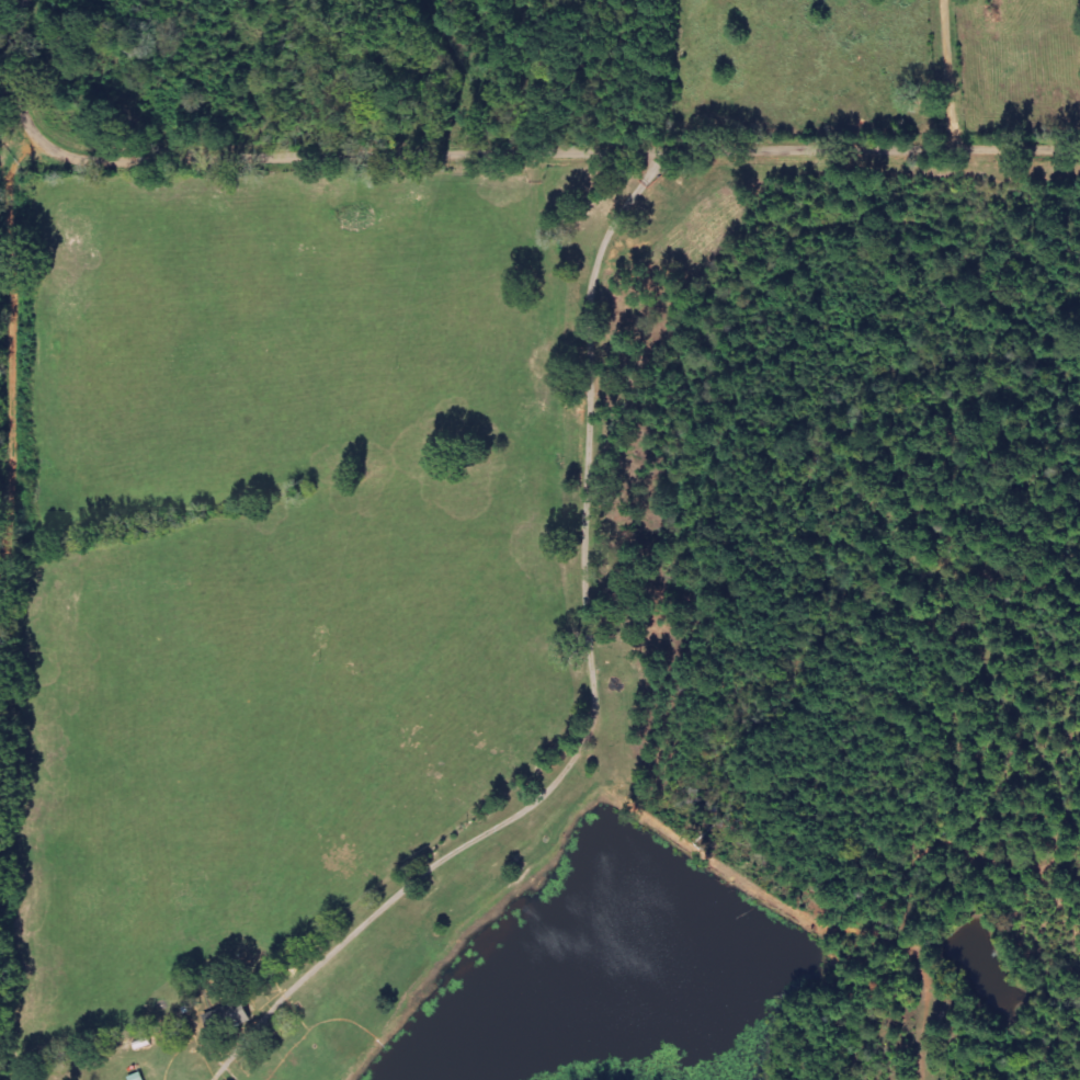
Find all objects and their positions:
road: (479, 185)
road: (567, 679)
building: (229, 1018)
building: (137, 1077)

